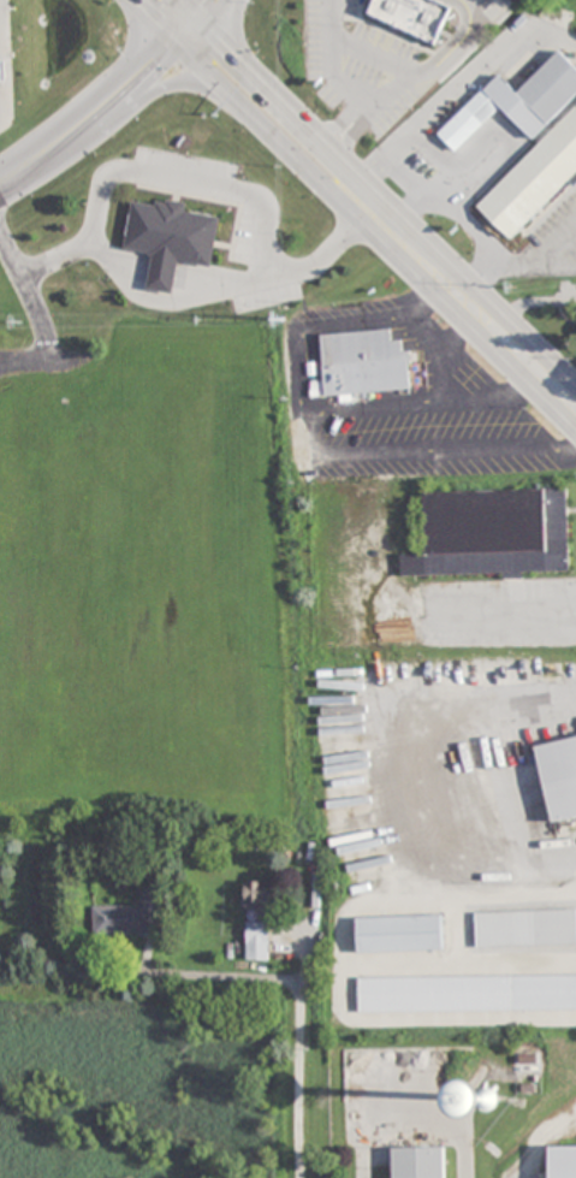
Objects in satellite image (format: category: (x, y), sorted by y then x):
road: (477, 1)
road: (188, 8)
road: (208, 8)
traffic signals: (197, 18)
building: (426, 18)
road: (153, 19)
road: (185, 28)
traffic signals: (173, 39)
road: (453, 47)
road: (200, 65)
road: (398, 69)
building: (4, 70)
road: (345, 83)
road: (461, 85)
road: (102, 105)
road: (124, 111)
building: (554, 141)
road: (12, 172)
road: (447, 176)
road: (386, 201)
building: (171, 238)
road: (519, 260)
road: (400, 261)
road: (35, 312)
road: (432, 357)
building: (363, 365)
road: (417, 403)
road: (311, 450)
building: (493, 533)
road: (396, 765)
building: (559, 775)
building: (148, 890)
building: (260, 894)
building: (119, 919)
building: (525, 929)
building: (399, 934)
building: (257, 941)
building: (467, 994)
road: (360, 1018)
water tower: (480, 1096)
building: (487, 1097)
building: (418, 1162)
building: (563, 1162)

